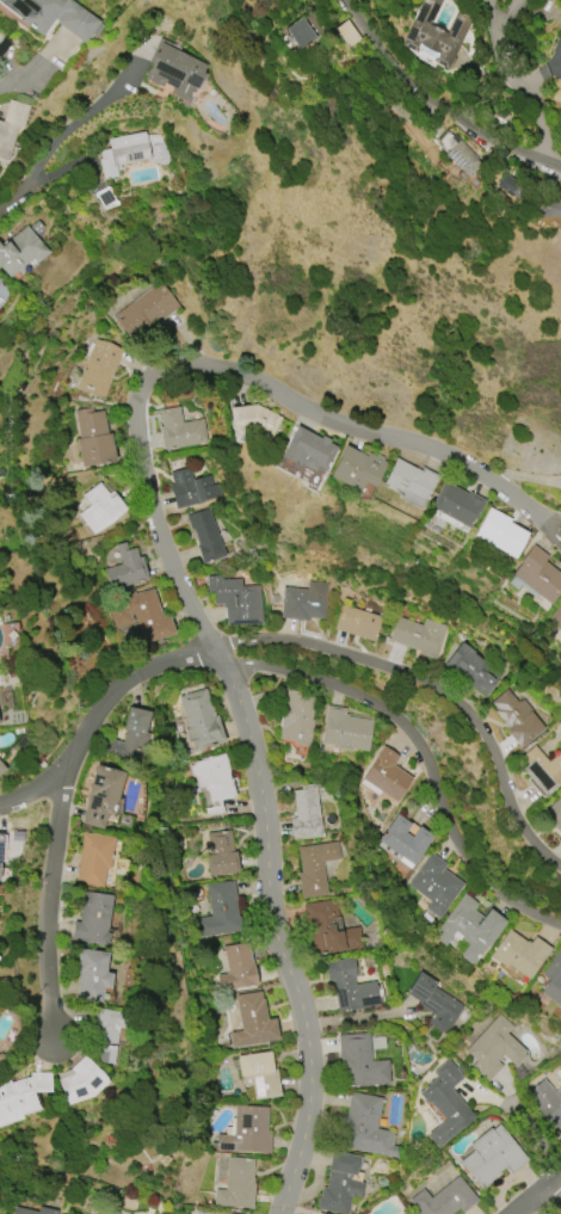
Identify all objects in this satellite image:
building: (54, 16)
road: (495, 24)
building: (300, 32)
building: (437, 32)
road: (560, 63)
road: (560, 67)
building: (175, 70)
road: (544, 75)
road: (20, 76)
road: (532, 95)
road: (448, 103)
building: (11, 124)
road: (72, 127)
building: (132, 152)
building: (462, 156)
building: (516, 190)
road: (17, 196)
building: (544, 207)
building: (20, 251)
building: (0, 282)
building: (146, 312)
building: (99, 368)
building: (253, 421)
road: (338, 423)
building: (179, 430)
building: (93, 437)
building: (308, 450)
building: (357, 468)
building: (408, 481)
building: (190, 487)
building: (456, 504)
building: (99, 507)
road: (541, 512)
road: (153, 516)
road: (541, 523)
building: (499, 532)
building: (205, 535)
building: (125, 568)
building: (536, 575)
building: (235, 600)
building: (304, 602)
building: (141, 615)
building: (556, 616)
building: (357, 623)
building: (419, 636)
building: (474, 668)
road: (432, 686)
road: (95, 713)
building: (517, 717)
building: (297, 719)
building: (201, 720)
building: (345, 729)
building: (131, 739)
road: (421, 748)
building: (1, 769)
building: (542, 770)
building: (386, 775)
building: (214, 777)
building: (101, 796)
building: (306, 813)
building: (555, 814)
building: (406, 840)
building: (1, 848)
building: (221, 854)
building: (94, 859)
building: (314, 868)
building: (436, 885)
road: (49, 889)
building: (220, 911)
building: (93, 919)
building: (329, 929)
building: (469, 929)
road: (275, 932)
building: (519, 954)
building: (236, 968)
building: (92, 974)
building: (553, 980)
building: (350, 987)
building: (434, 1003)
building: (253, 1021)
building: (106, 1031)
building: (494, 1048)
building: (360, 1062)
building: (259, 1074)
building: (81, 1081)
building: (21, 1097)
building: (445, 1103)
building: (547, 1104)
building: (364, 1128)
building: (247, 1132)
road: (536, 1138)
building: (492, 1157)
building: (340, 1183)
building: (236, 1184)
road: (536, 1193)
road: (553, 1196)
building: (444, 1198)
building: (18, 1209)
building: (218, 1213)

